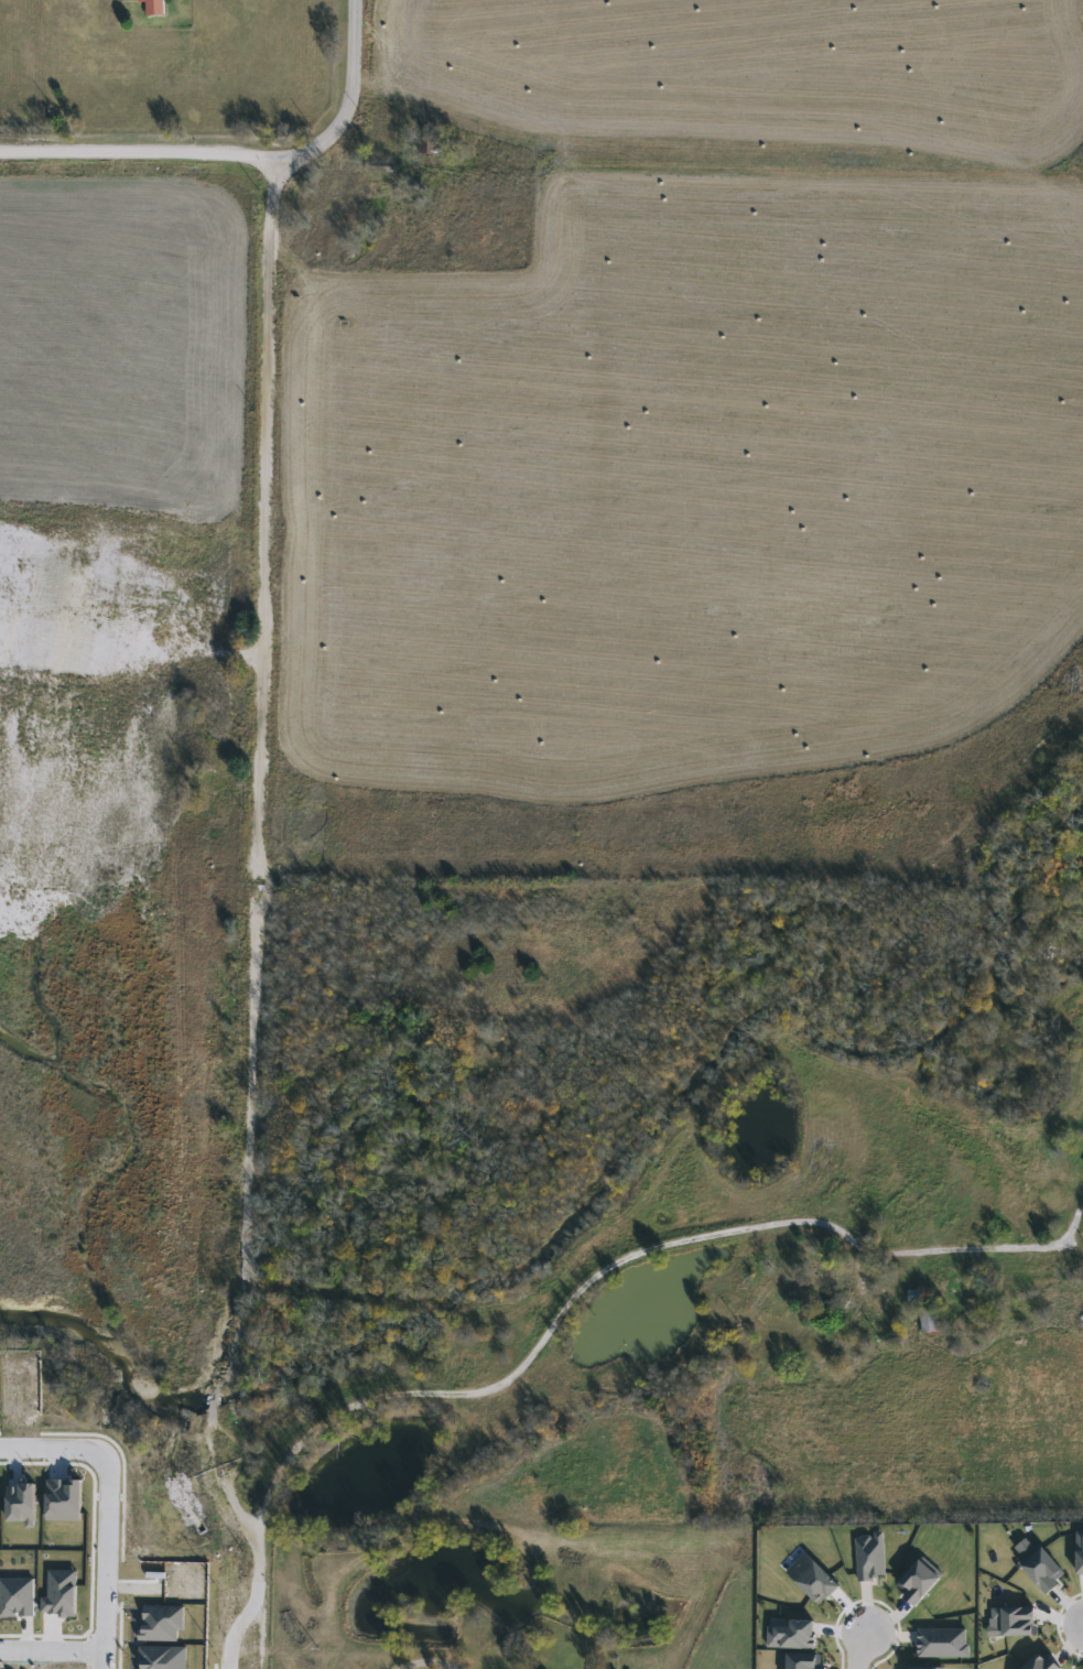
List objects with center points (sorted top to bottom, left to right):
building: (155, 8)
road: (347, 101)
road: (138, 152)
road: (257, 822)
road: (605, 1268)
building: (819, 1289)
building: (916, 1296)
building: (863, 1301)
building: (930, 1321)
road: (51, 1448)
road: (235, 1510)
road: (107, 1562)
road: (252, 1610)
road: (859, 1649)
road: (52, 1652)
road: (429, 1661)

